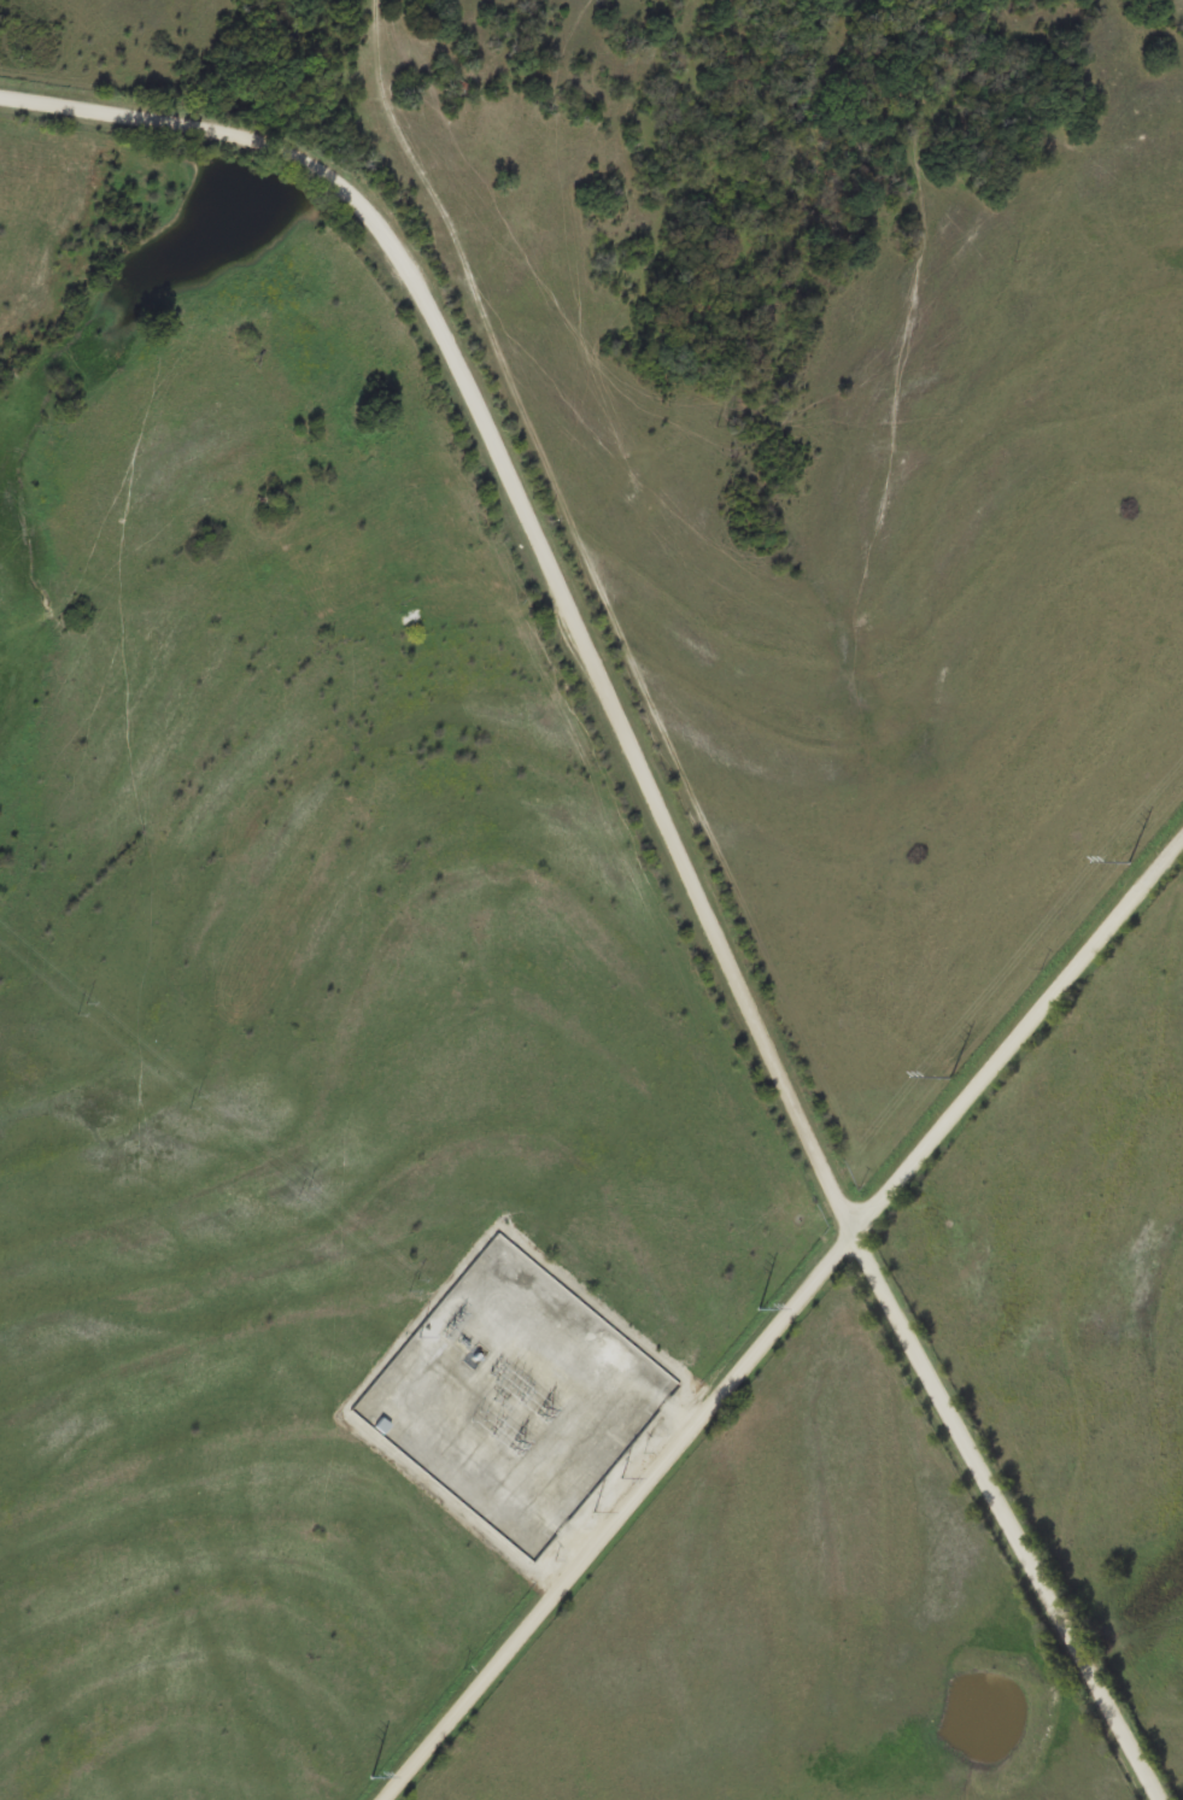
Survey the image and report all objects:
road: (1175, 33)
road: (672, 826)
road: (784, 1327)
power substation: (514, 1392)

